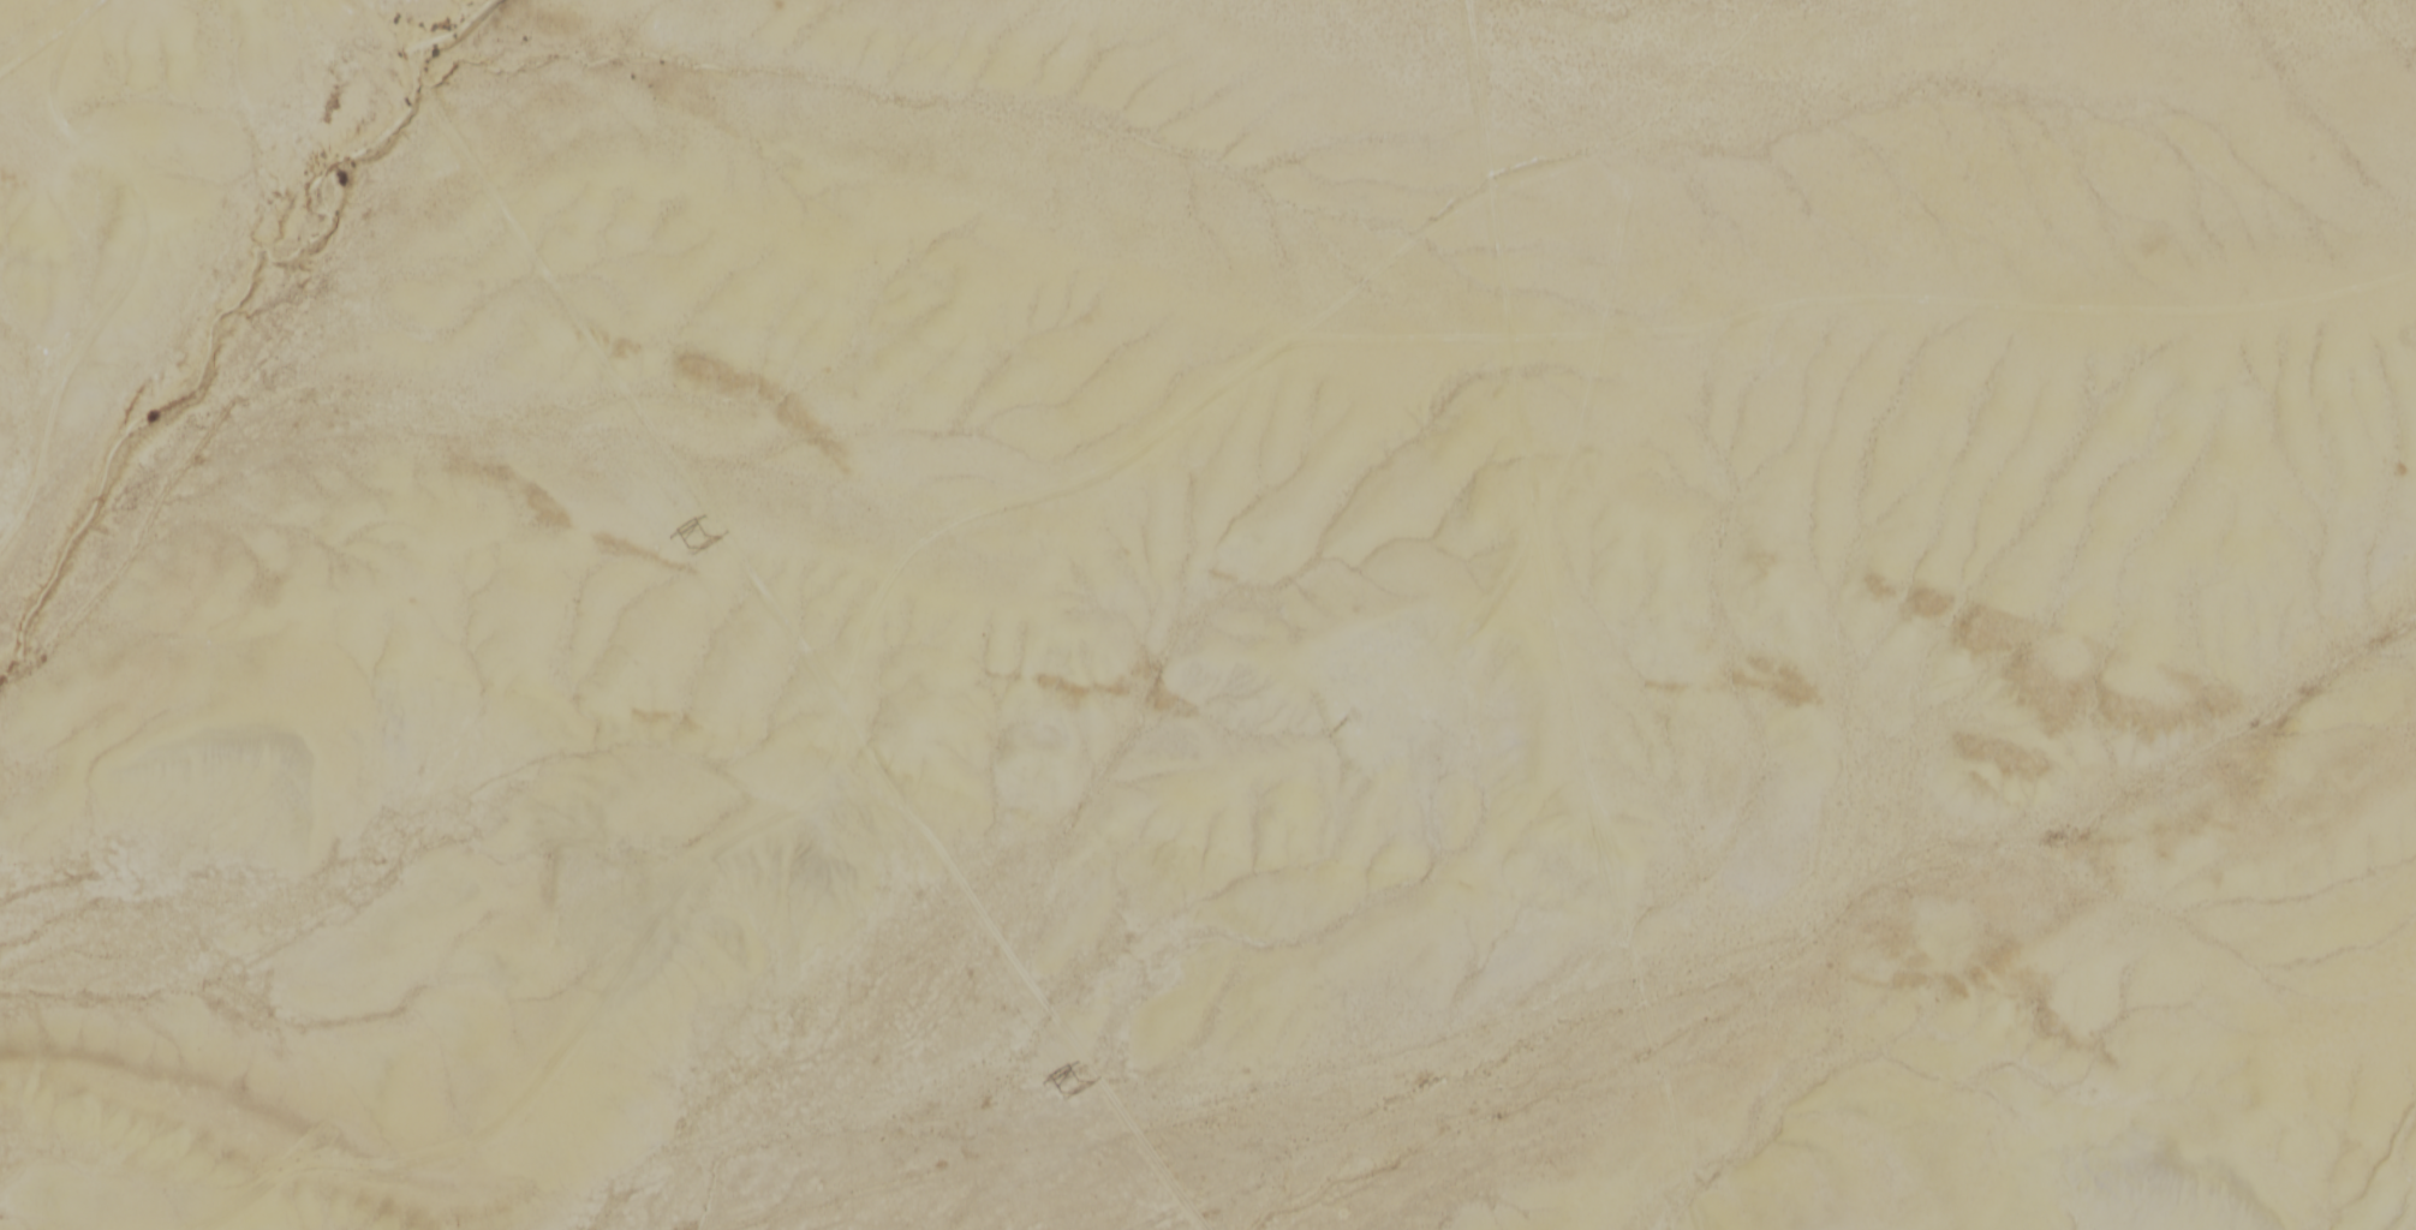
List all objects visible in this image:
road: (77, 49)
power tower: (691, 537)
power tower: (1064, 1081)

